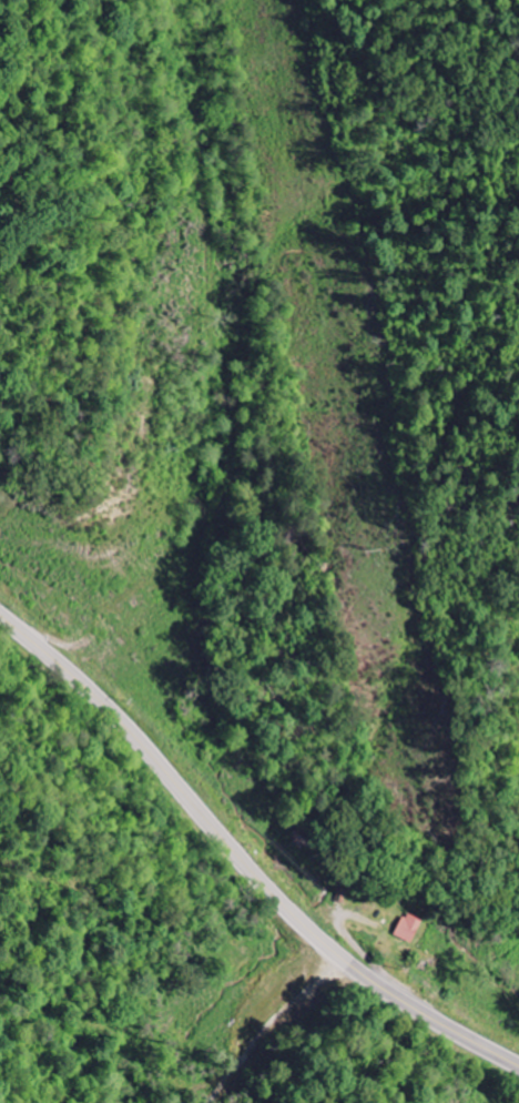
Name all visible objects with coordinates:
road: (242, 861)
building: (405, 928)

